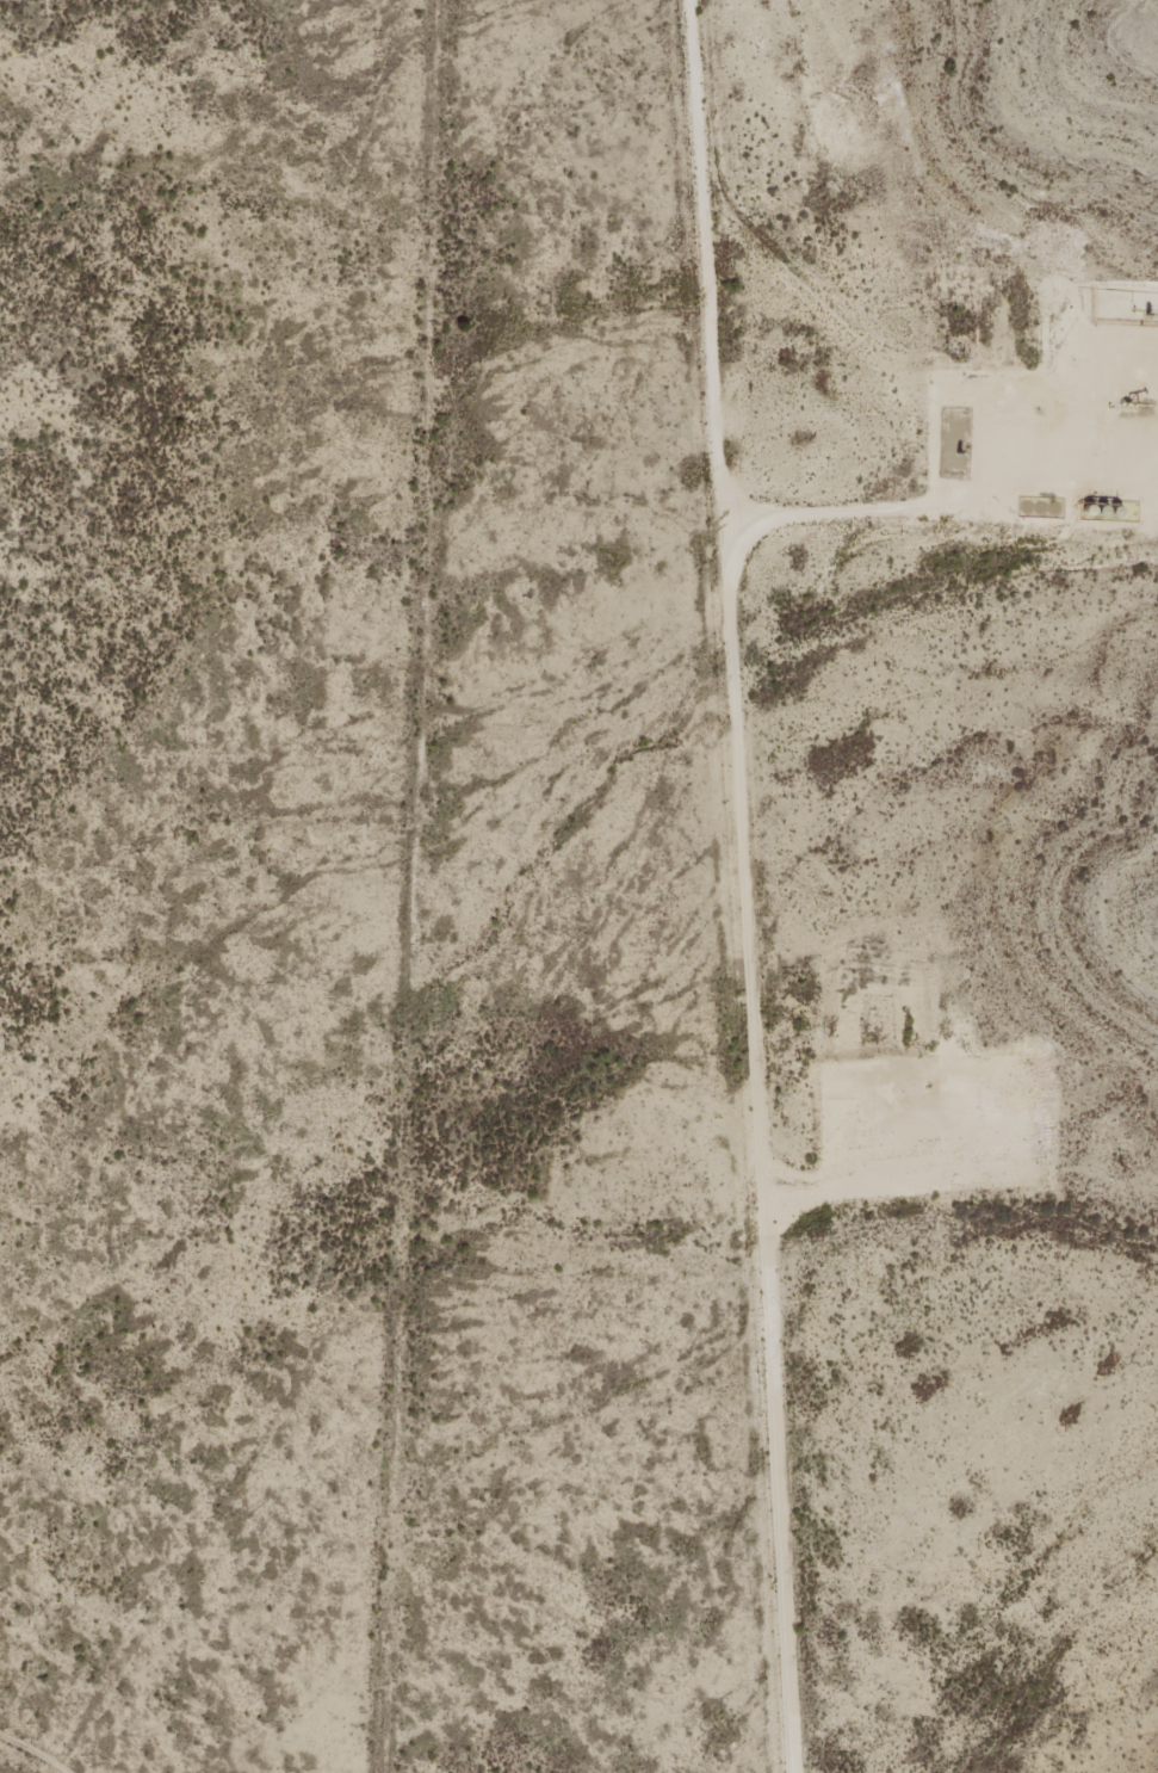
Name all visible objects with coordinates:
road: (698, 259)
road: (1038, 385)
road: (840, 508)
road: (754, 1144)
road: (899, 1153)

